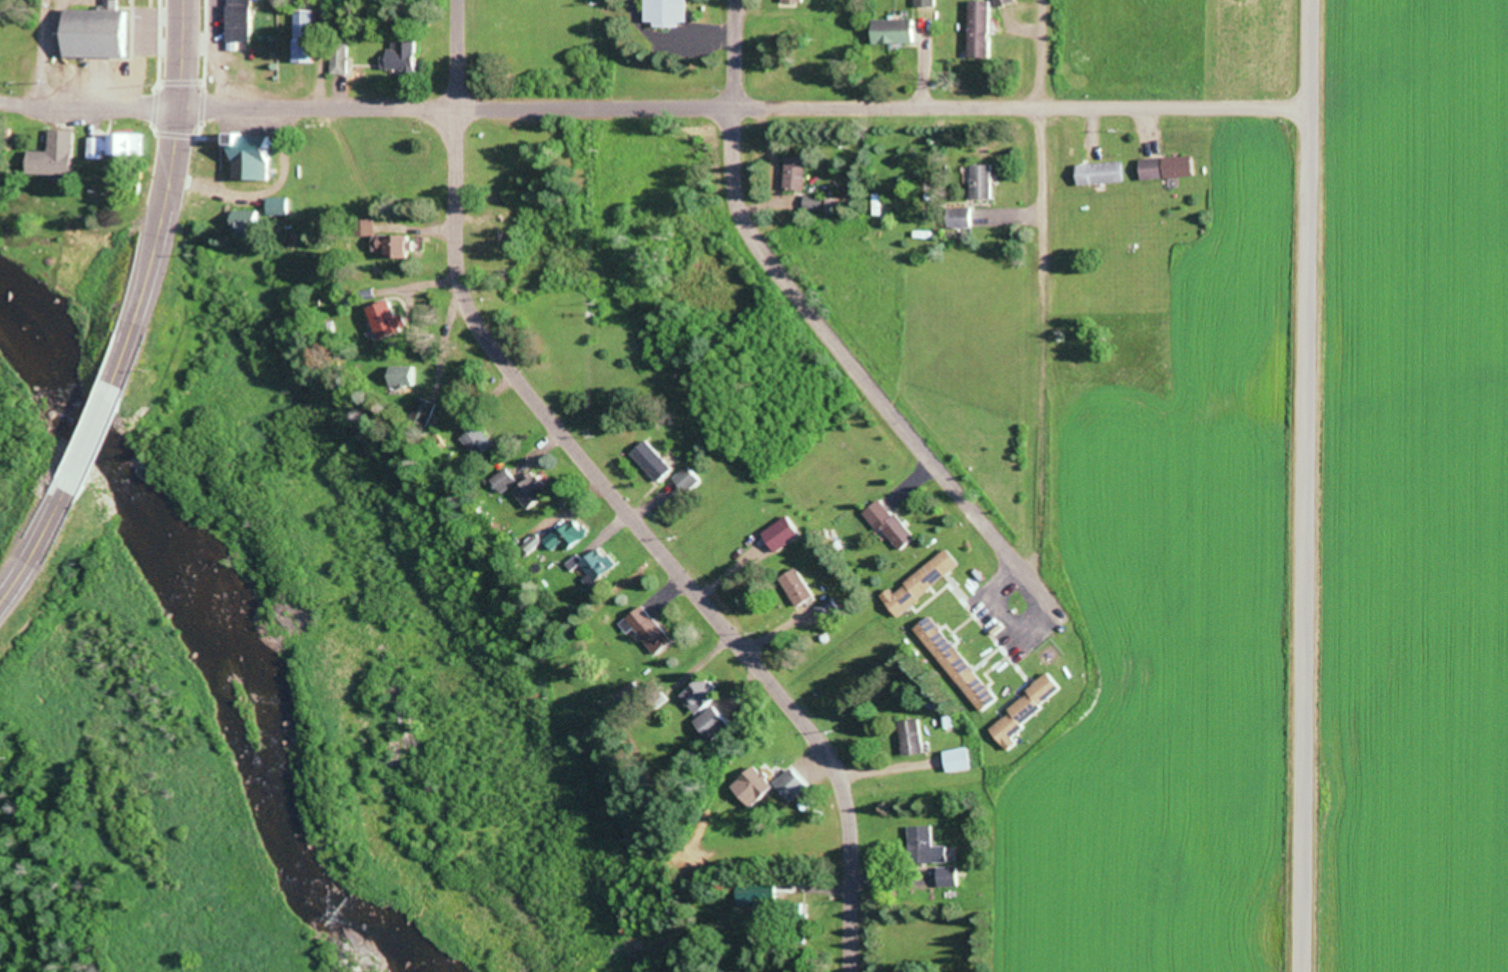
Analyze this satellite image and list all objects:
building: (929, 2)
building: (675, 11)
building: (245, 19)
building: (309, 21)
building: (986, 26)
building: (899, 28)
building: (101, 30)
crop: (1258, 48)
road: (44, 52)
road: (325, 52)
building: (407, 54)
road: (734, 101)
road: (657, 104)
building: (117, 142)
building: (60, 152)
building: (1169, 165)
building: (802, 170)
building: (1106, 170)
building: (987, 179)
road: (170, 182)
building: (252, 217)
building: (399, 242)
road: (1042, 290)
building: (392, 318)
building: (412, 373)
building: (428, 406)
road: (894, 412)
road: (100, 436)
building: (481, 439)
building: (658, 458)
building: (692, 475)
building: (510, 477)
road: (1311, 485)
crop: (1412, 488)
building: (537, 489)
road: (615, 500)
building: (895, 522)
building: (572, 535)
road: (31, 558)
building: (601, 567)
building: (927, 579)
building: (802, 585)
crop: (1180, 619)
building: (653, 627)
river: (236, 638)
building: (962, 661)
building: (1032, 706)
building: (712, 710)
building: (917, 734)
building: (963, 757)
building: (775, 783)
building: (930, 844)

